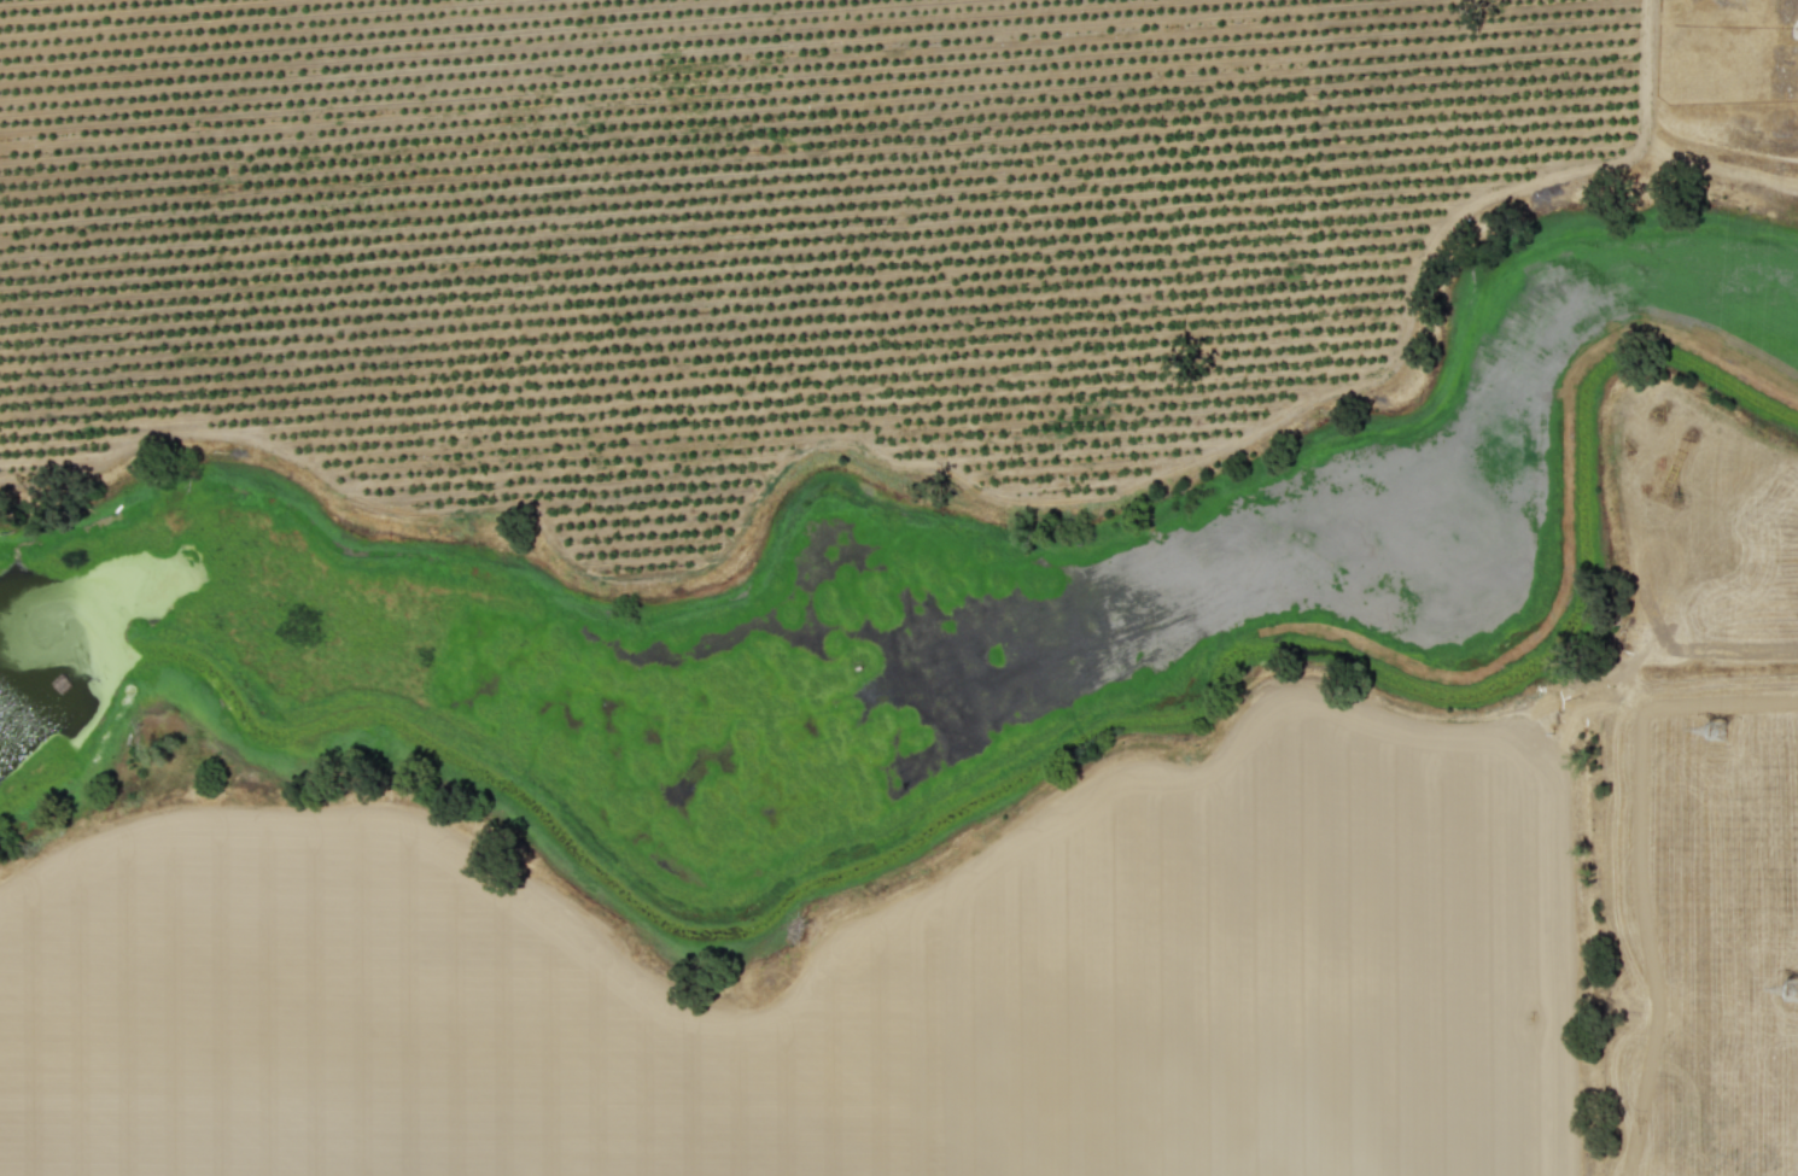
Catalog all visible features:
power tower: (1721, 745)
crop: (1014, 930)
power tower: (1785, 985)

